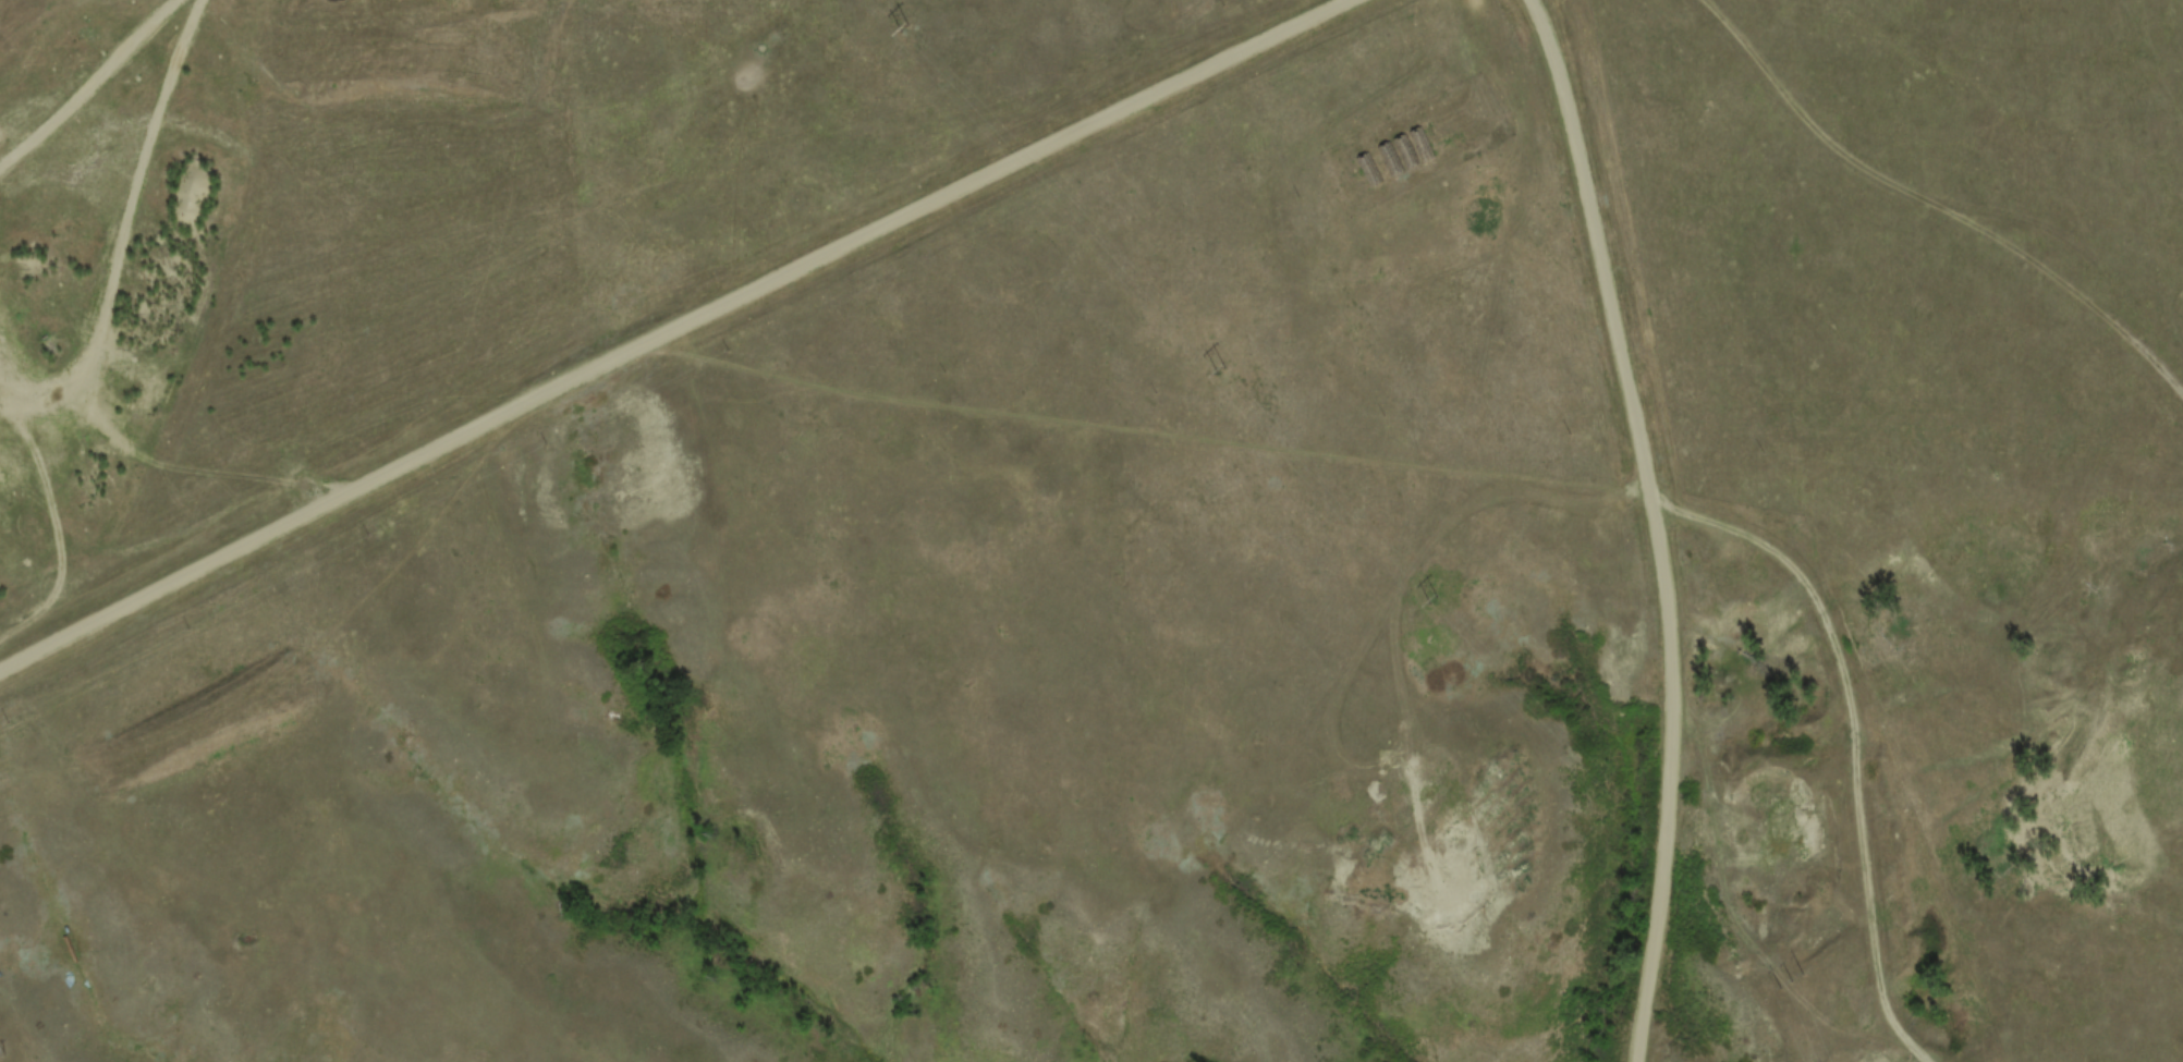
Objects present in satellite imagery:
power tower: (903, 27)
power tower: (1223, 373)
road: (1654, 522)
power tower: (1432, 602)
power tower: (1791, 984)

